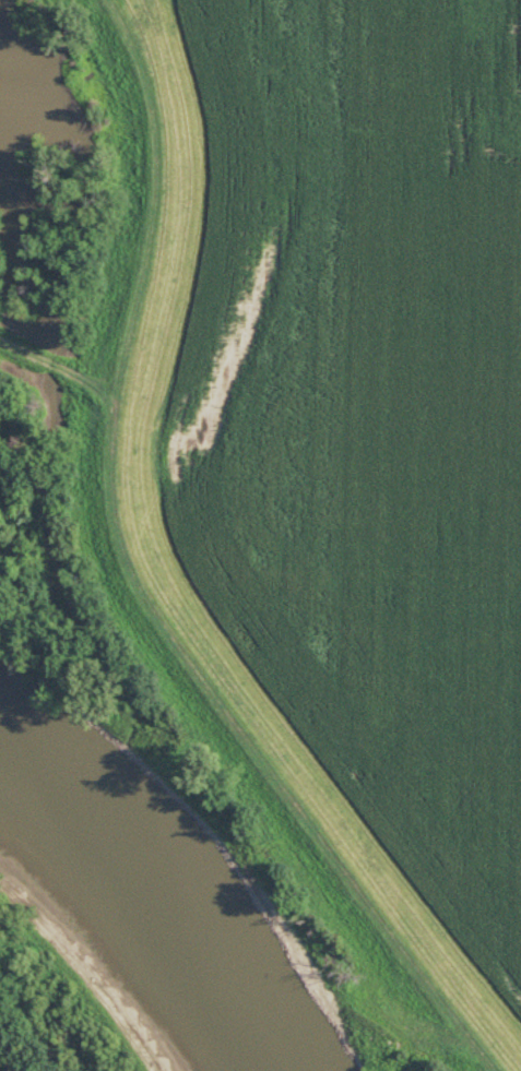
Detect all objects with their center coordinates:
crop: (365, 414)
river: (134, 886)

